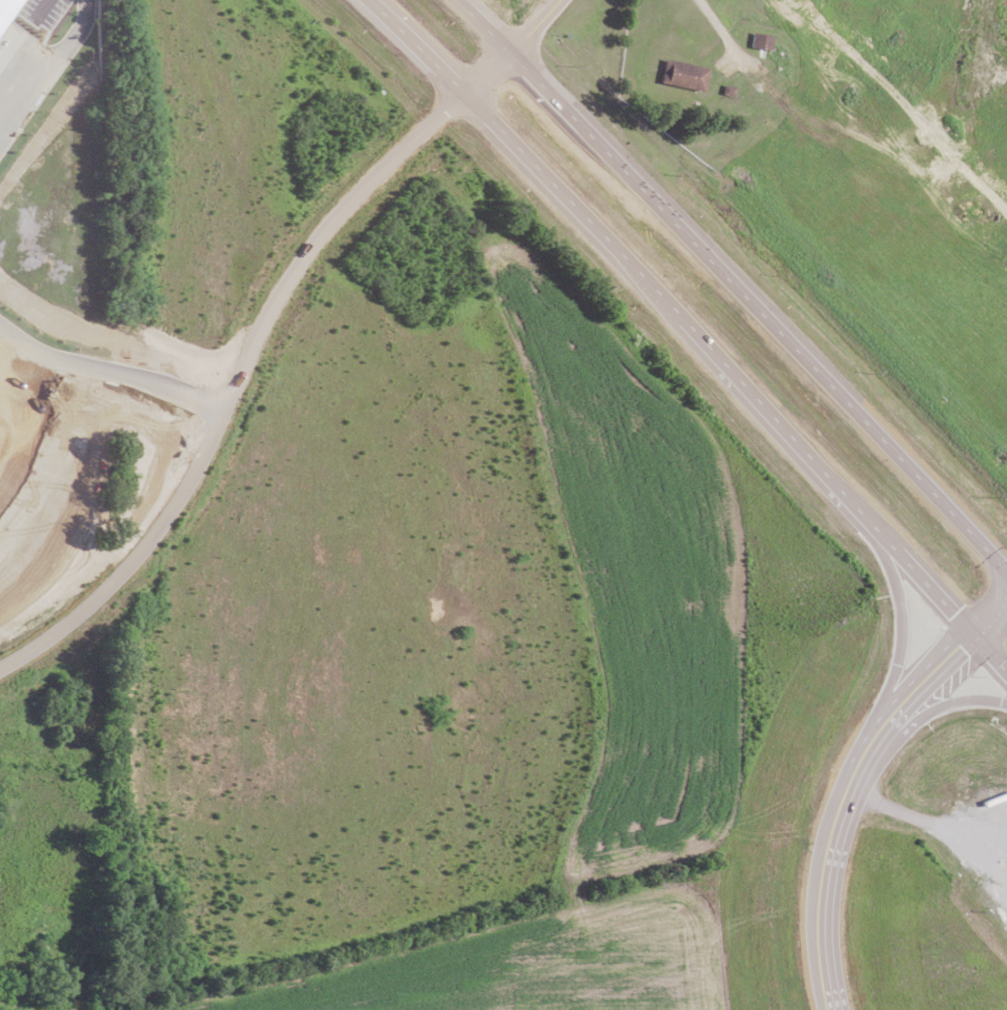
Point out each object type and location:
building: (7, 10)
road: (485, 25)
road: (721, 29)
building: (761, 39)
road: (415, 47)
road: (514, 48)
building: (683, 73)
road: (545, 86)
road: (595, 227)
road: (794, 346)
road: (235, 387)
road: (796, 440)
road: (937, 594)
traffic signals: (943, 601)
road: (986, 601)
road: (900, 612)
traffic signals: (941, 646)
road: (923, 664)
road: (929, 709)
road: (872, 728)
road: (851, 764)
road: (925, 820)
road: (815, 892)
road: (826, 1008)

